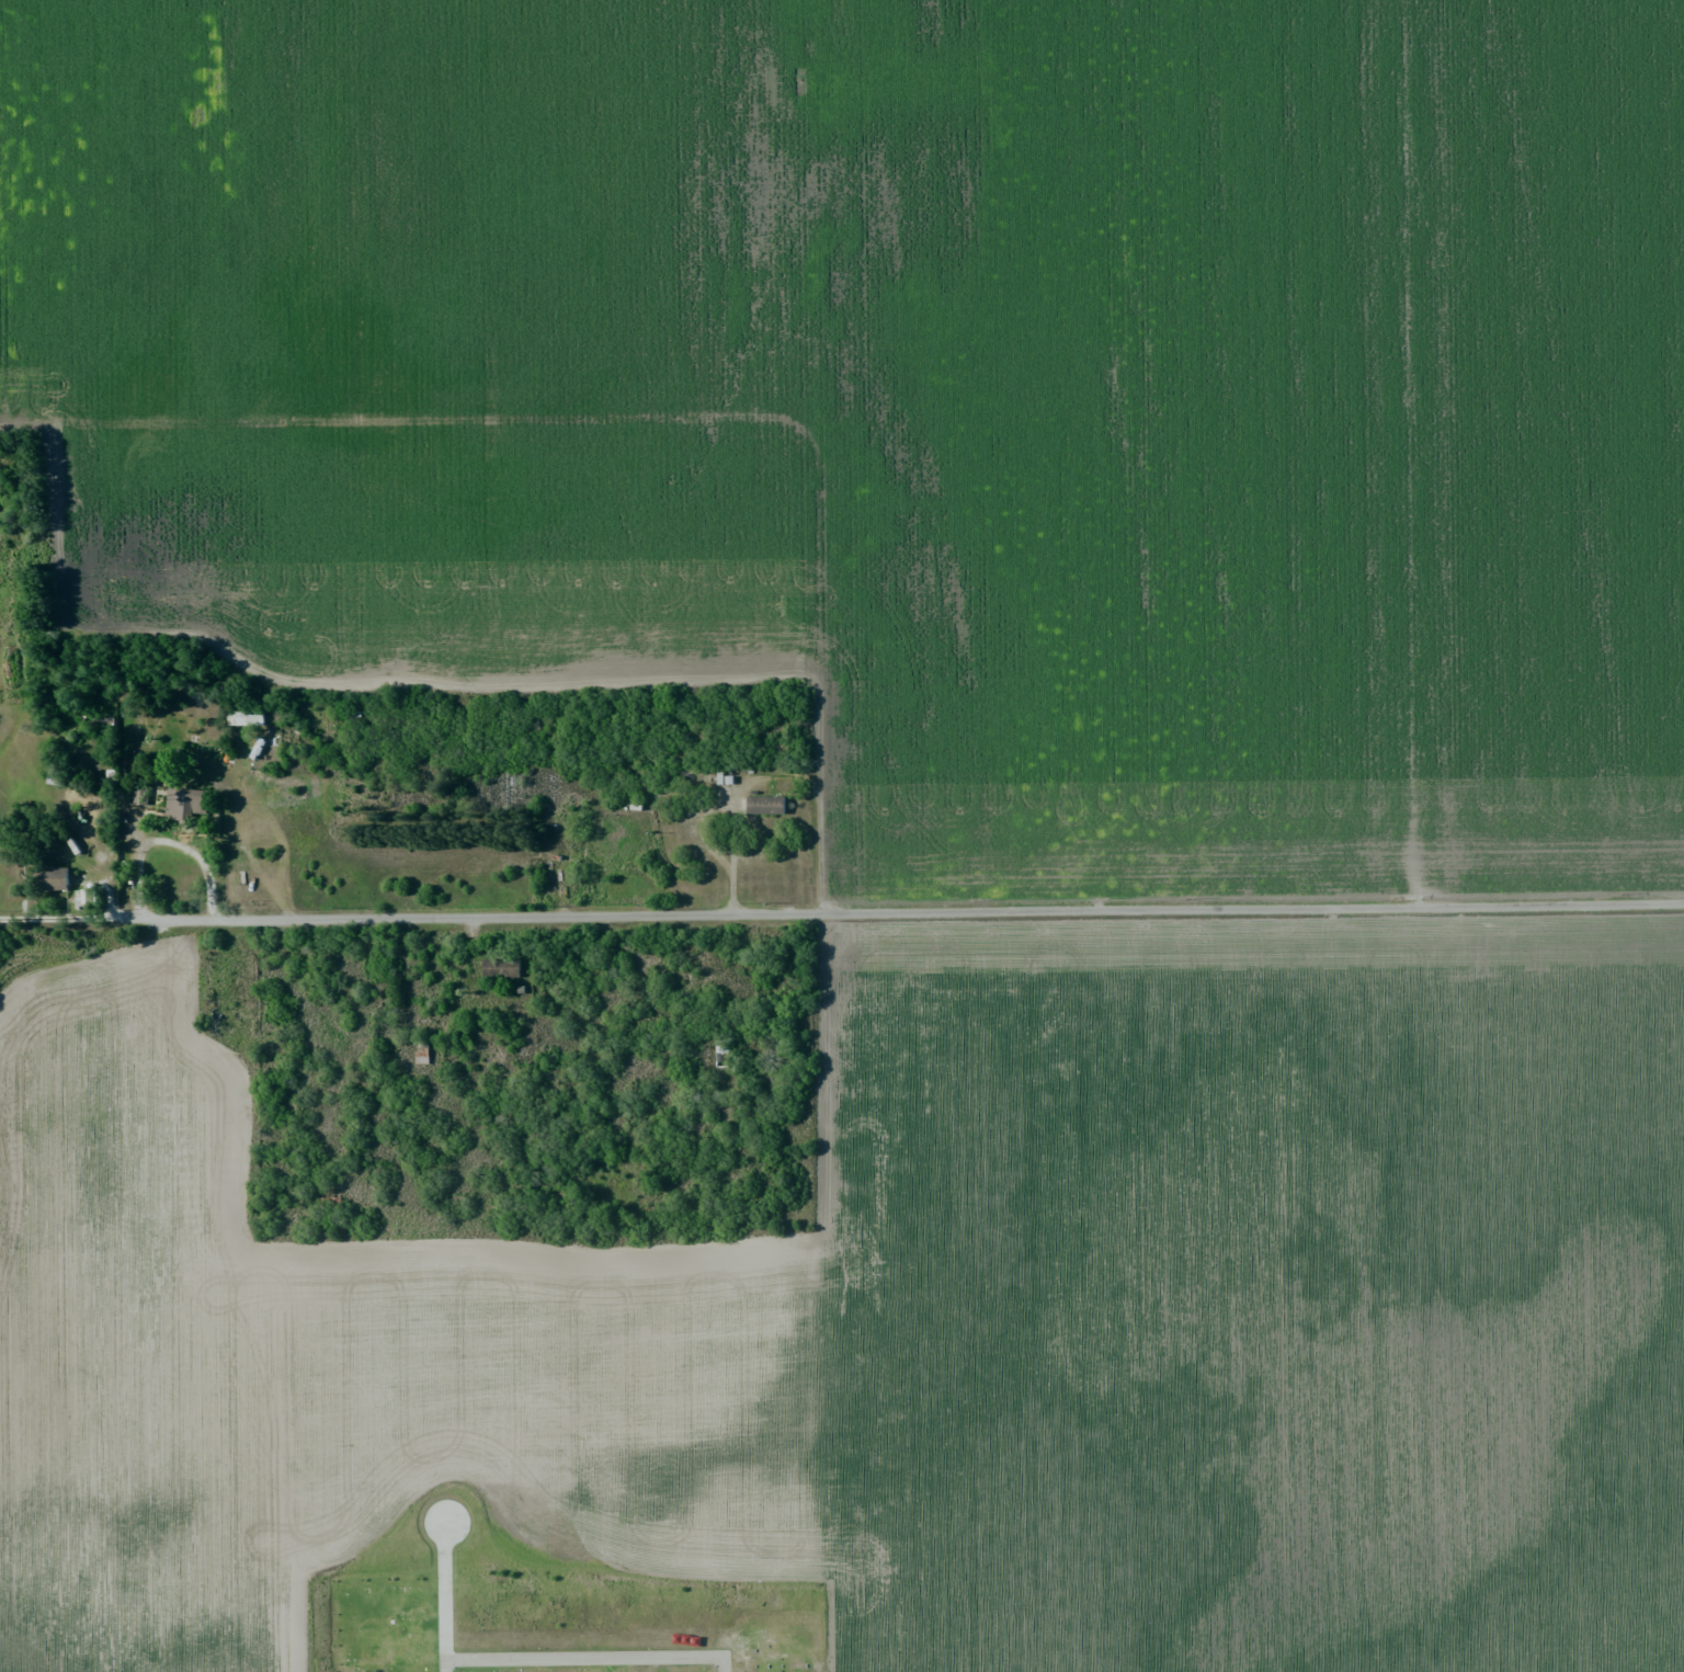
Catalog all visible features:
road: (645, 414)
building: (251, 719)
building: (141, 795)
road: (727, 803)
building: (183, 804)
building: (767, 805)
road: (170, 841)
building: (53, 878)
road: (841, 910)
building: (503, 967)
building: (720, 1053)
park: (580, 1646)
road: (585, 1657)

